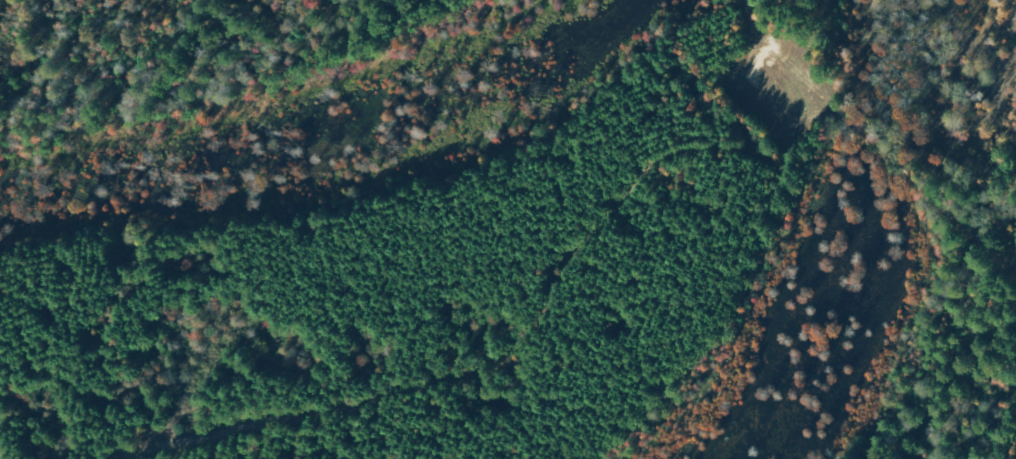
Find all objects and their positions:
road: (889, 114)

